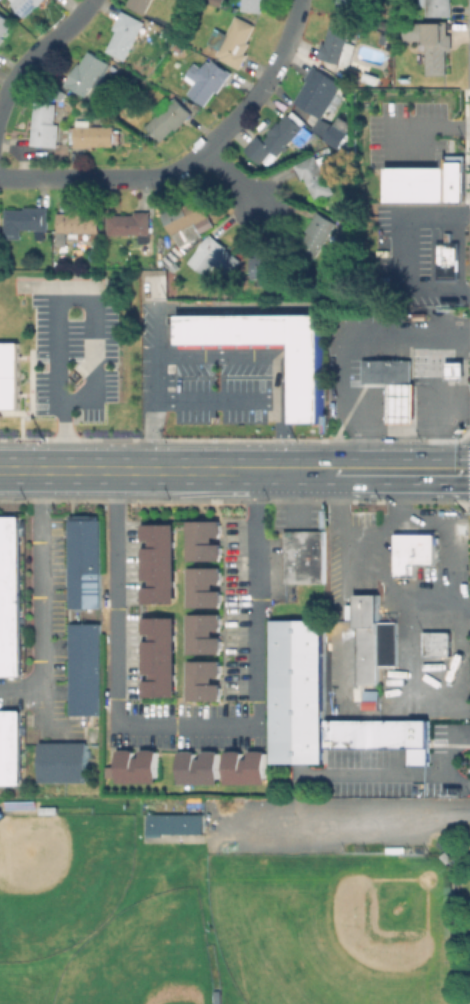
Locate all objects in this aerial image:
building: (216, 2)
building: (140, 4)
building: (24, 5)
building: (251, 5)
building: (347, 5)
building: (439, 7)
building: (3, 24)
building: (125, 30)
building: (233, 41)
building: (338, 45)
road: (42, 46)
building: (434, 46)
building: (87, 74)
road: (268, 81)
building: (209, 82)
building: (320, 93)
building: (169, 118)
building: (44, 124)
road: (426, 127)
building: (342, 133)
building: (94, 136)
building: (280, 136)
building: (315, 174)
road: (108, 177)
road: (238, 178)
building: (431, 182)
building: (25, 220)
building: (188, 222)
building: (76, 223)
building: (131, 224)
building: (316, 233)
road: (400, 249)
building: (214, 255)
building: (170, 256)
building: (447, 260)
building: (270, 263)
road: (92, 315)
building: (419, 315)
building: (455, 369)
gas station: (455, 369)
building: (385, 370)
building: (9, 376)
road: (282, 379)
building: (308, 384)
road: (155, 390)
building: (398, 401)
gas station: (398, 401)
road: (117, 471)
road: (286, 471)
road: (403, 472)
road: (386, 521)
building: (202, 540)
building: (410, 552)
building: (305, 556)
road: (381, 560)
building: (82, 563)
building: (156, 563)
road: (344, 579)
building: (202, 586)
road: (40, 595)
road: (430, 595)
building: (10, 596)
building: (202, 633)
building: (374, 639)
building: (157, 656)
building: (83, 667)
building: (202, 680)
building: (297, 692)
road: (186, 724)
building: (383, 737)
building: (11, 747)
building: (61, 761)
building: (136, 765)
building: (197, 767)
building: (244, 767)
road: (404, 775)
building: (0, 813)
road: (348, 815)
building: (173, 822)
parking lot: (332, 824)
park: (58, 877)
park: (334, 926)
park: (140, 956)

